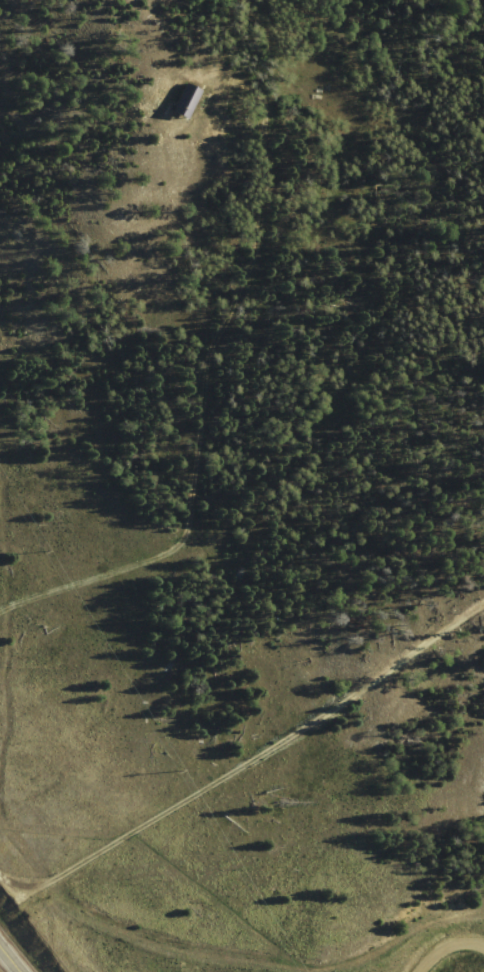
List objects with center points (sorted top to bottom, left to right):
road: (38, 808)
road: (285, 909)
road: (10, 960)

